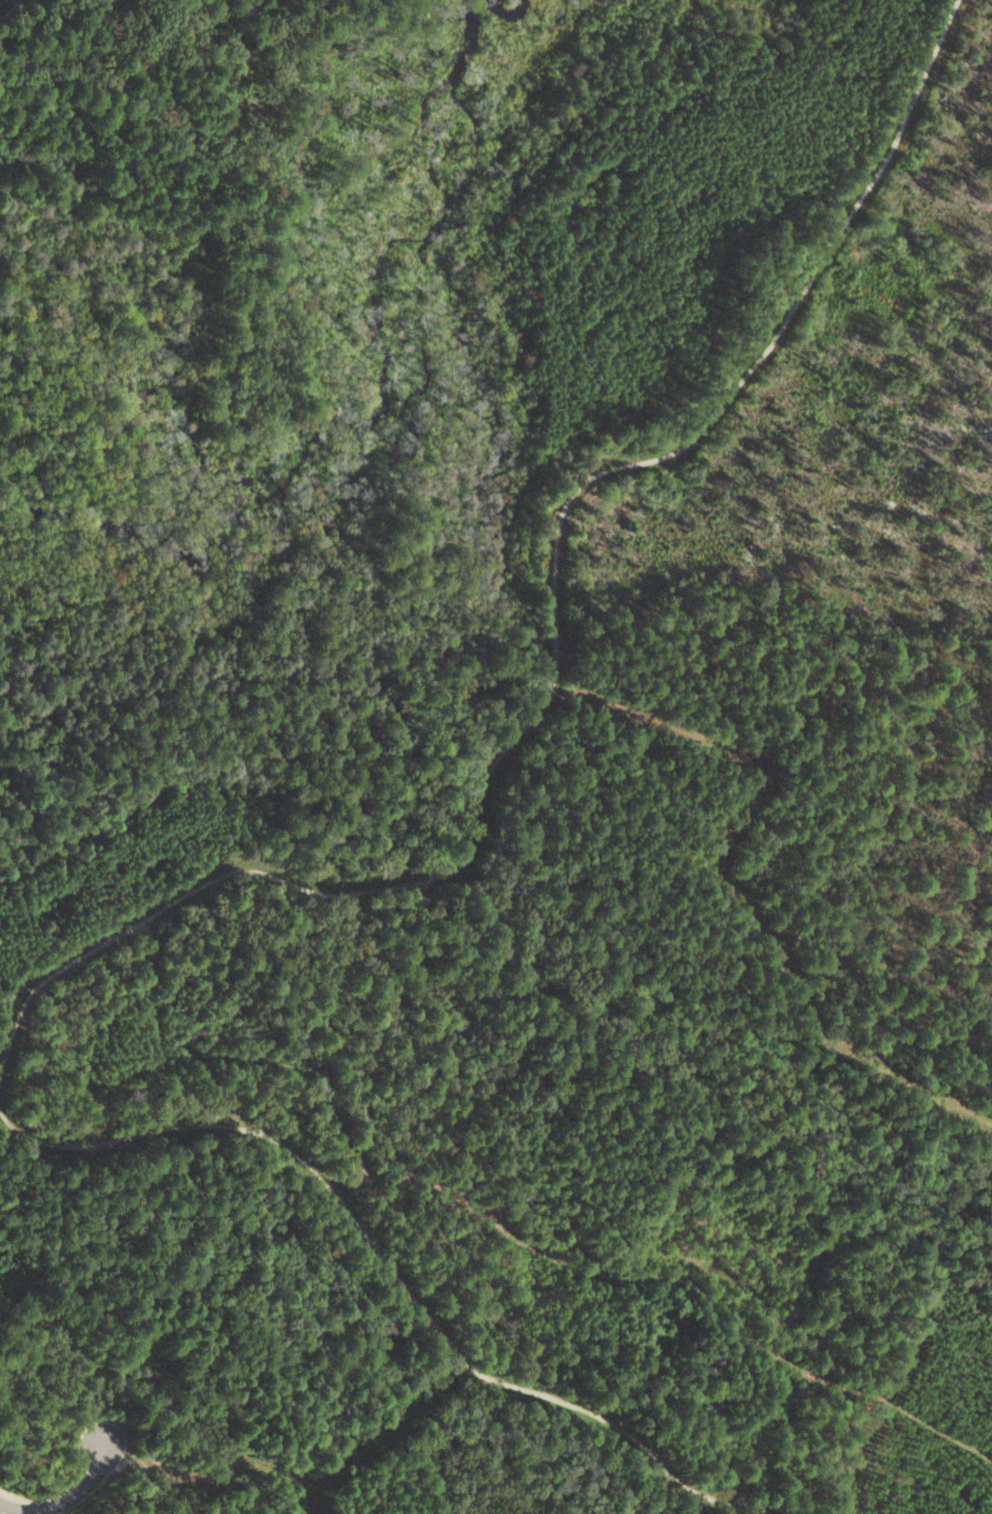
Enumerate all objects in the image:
road: (552, 636)
road: (386, 1254)
road: (70, 1502)

